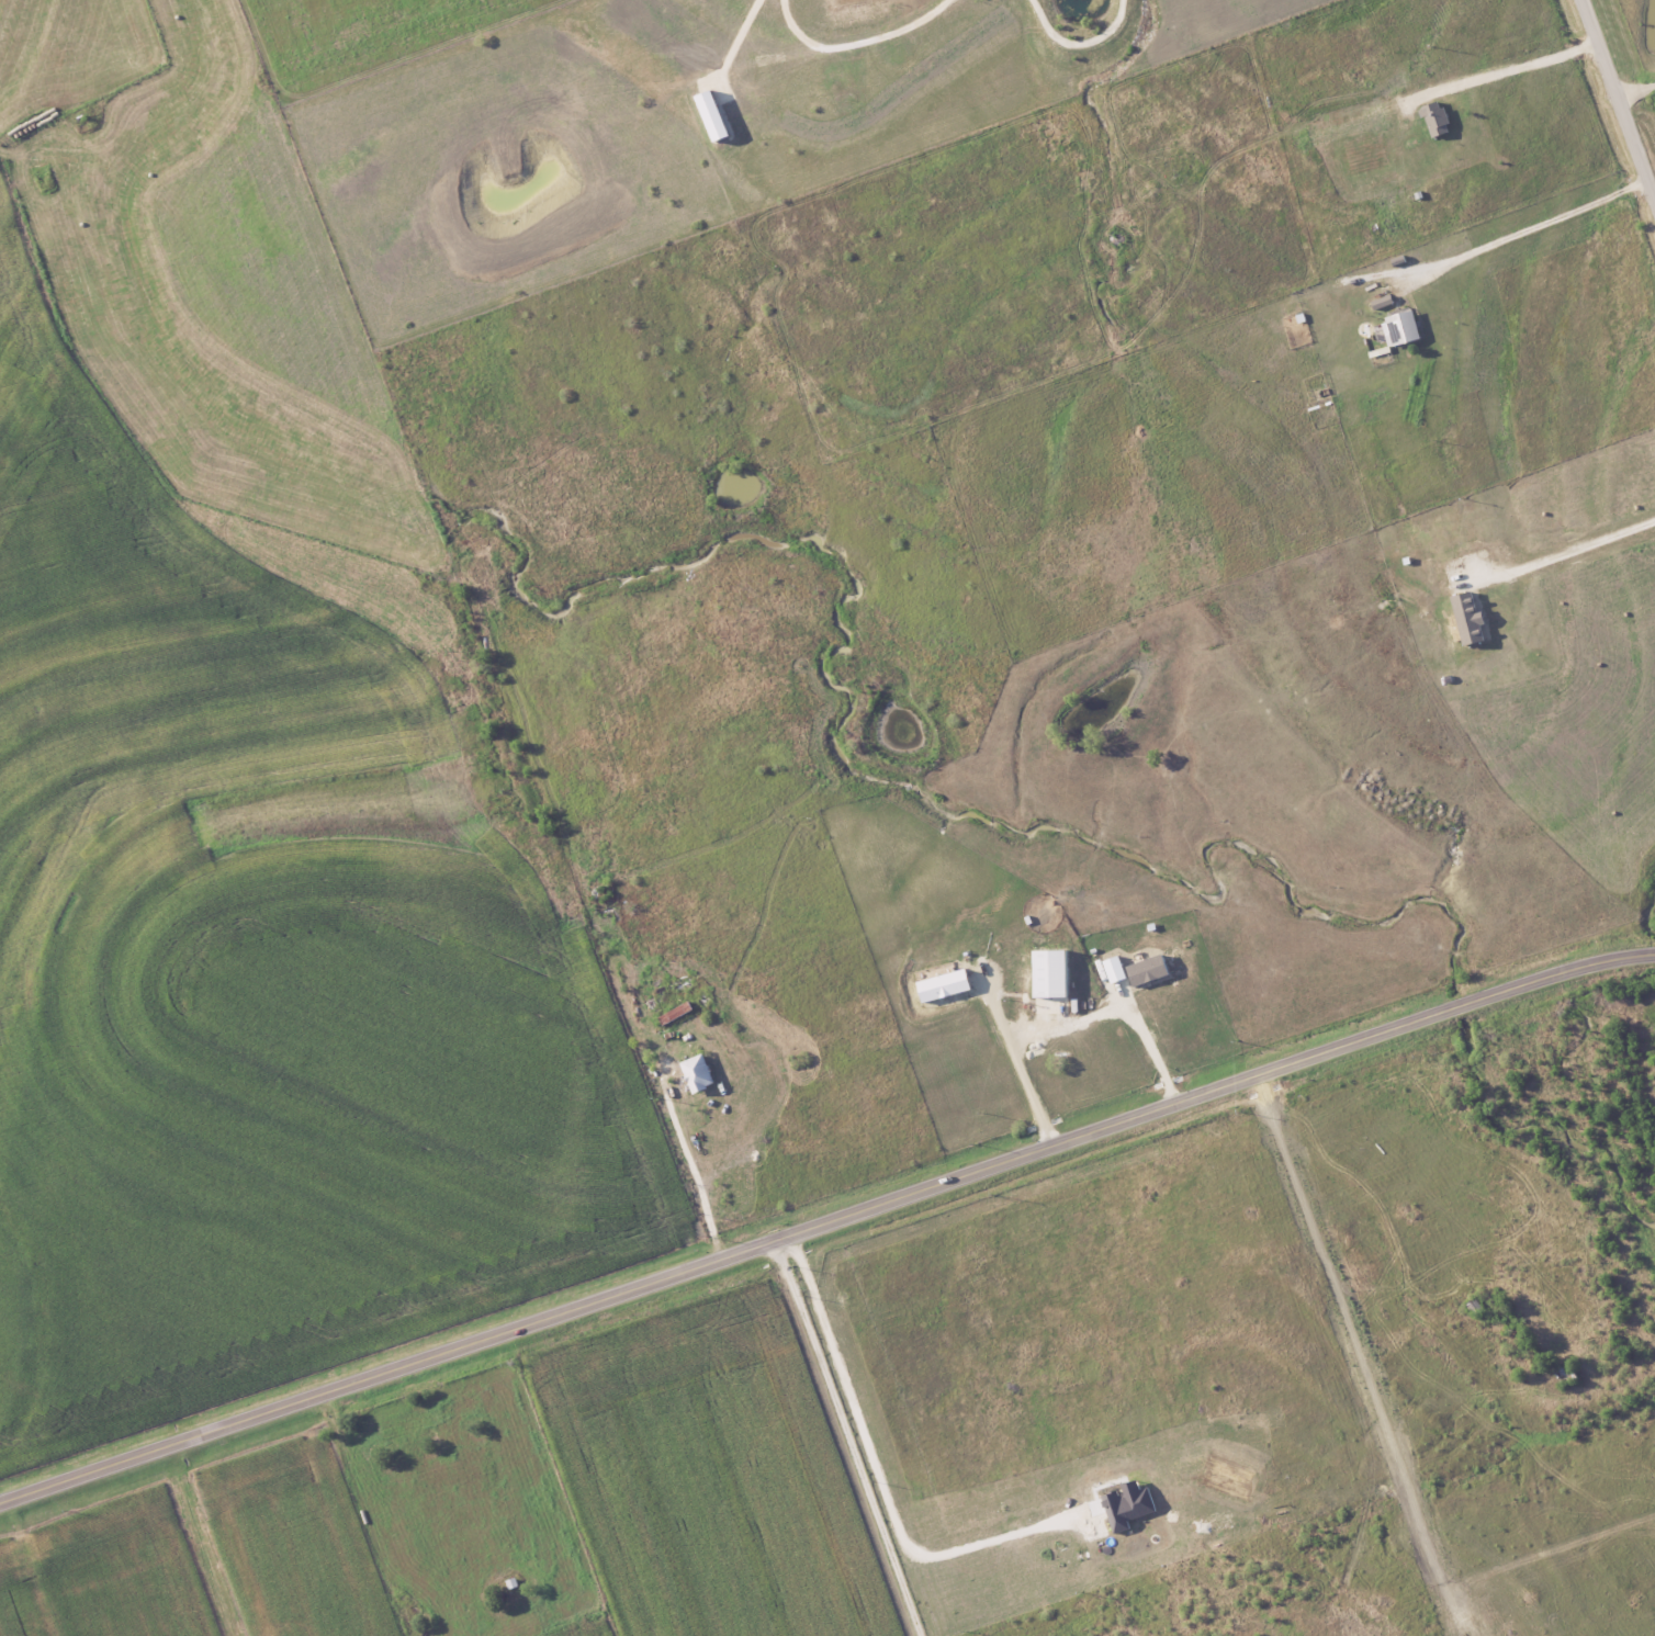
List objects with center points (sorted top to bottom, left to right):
road: (862, 42)
road: (1085, 43)
road: (1517, 68)
road: (1636, 92)
road: (1618, 100)
building: (719, 116)
building: (1434, 123)
road: (1538, 225)
building: (1397, 329)
road: (1578, 548)
building: (1465, 618)
building: (1110, 969)
building: (1145, 970)
building: (1045, 973)
building: (939, 985)
road: (1153, 1053)
road: (1016, 1069)
building: (694, 1073)
road: (711, 1181)
road: (826, 1223)
road: (843, 1438)
road: (876, 1469)
building: (1125, 1504)

